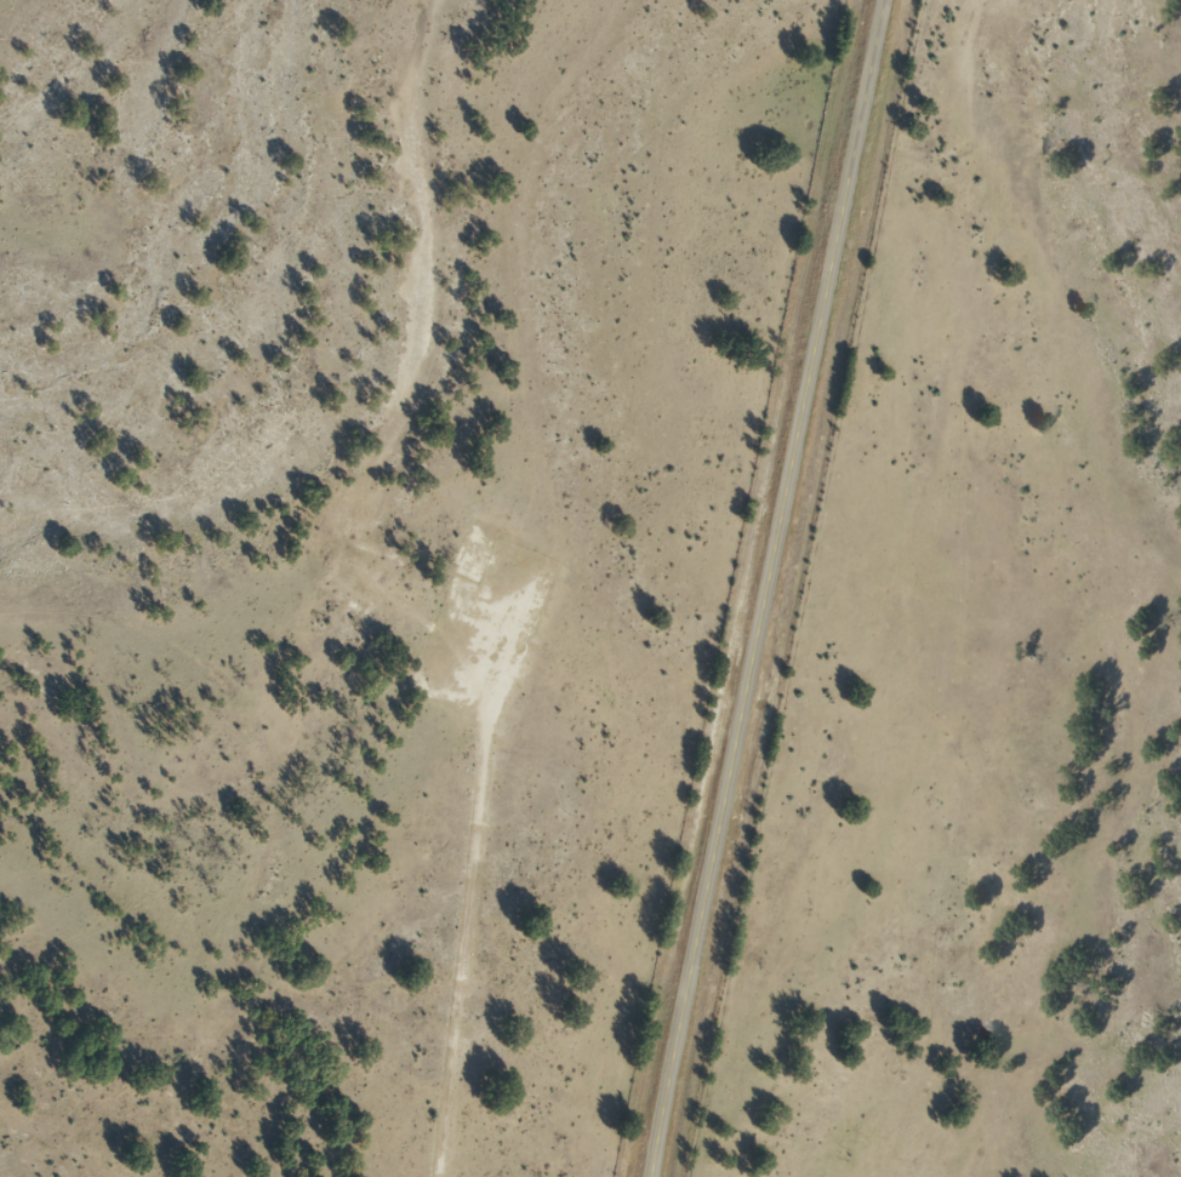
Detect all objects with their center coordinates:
road: (766, 588)

